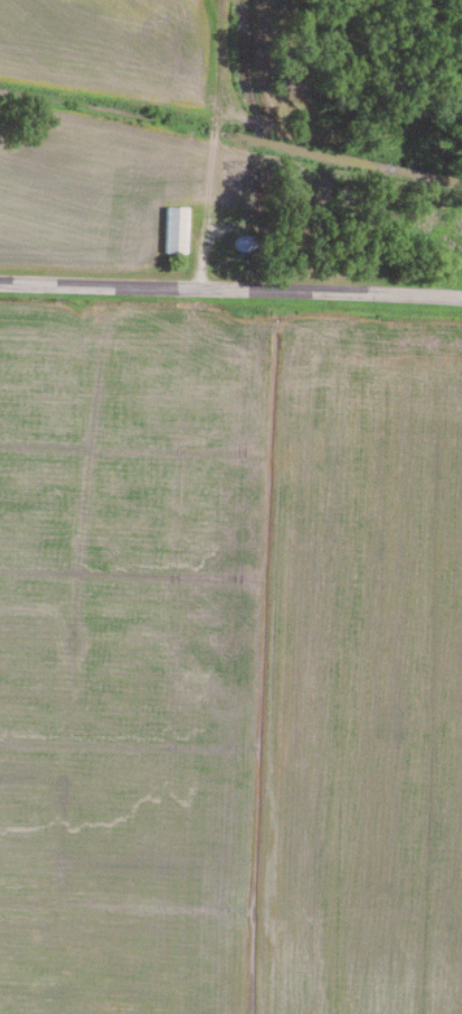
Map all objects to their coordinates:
building: (173, 230)
building: (239, 245)
road: (231, 292)

